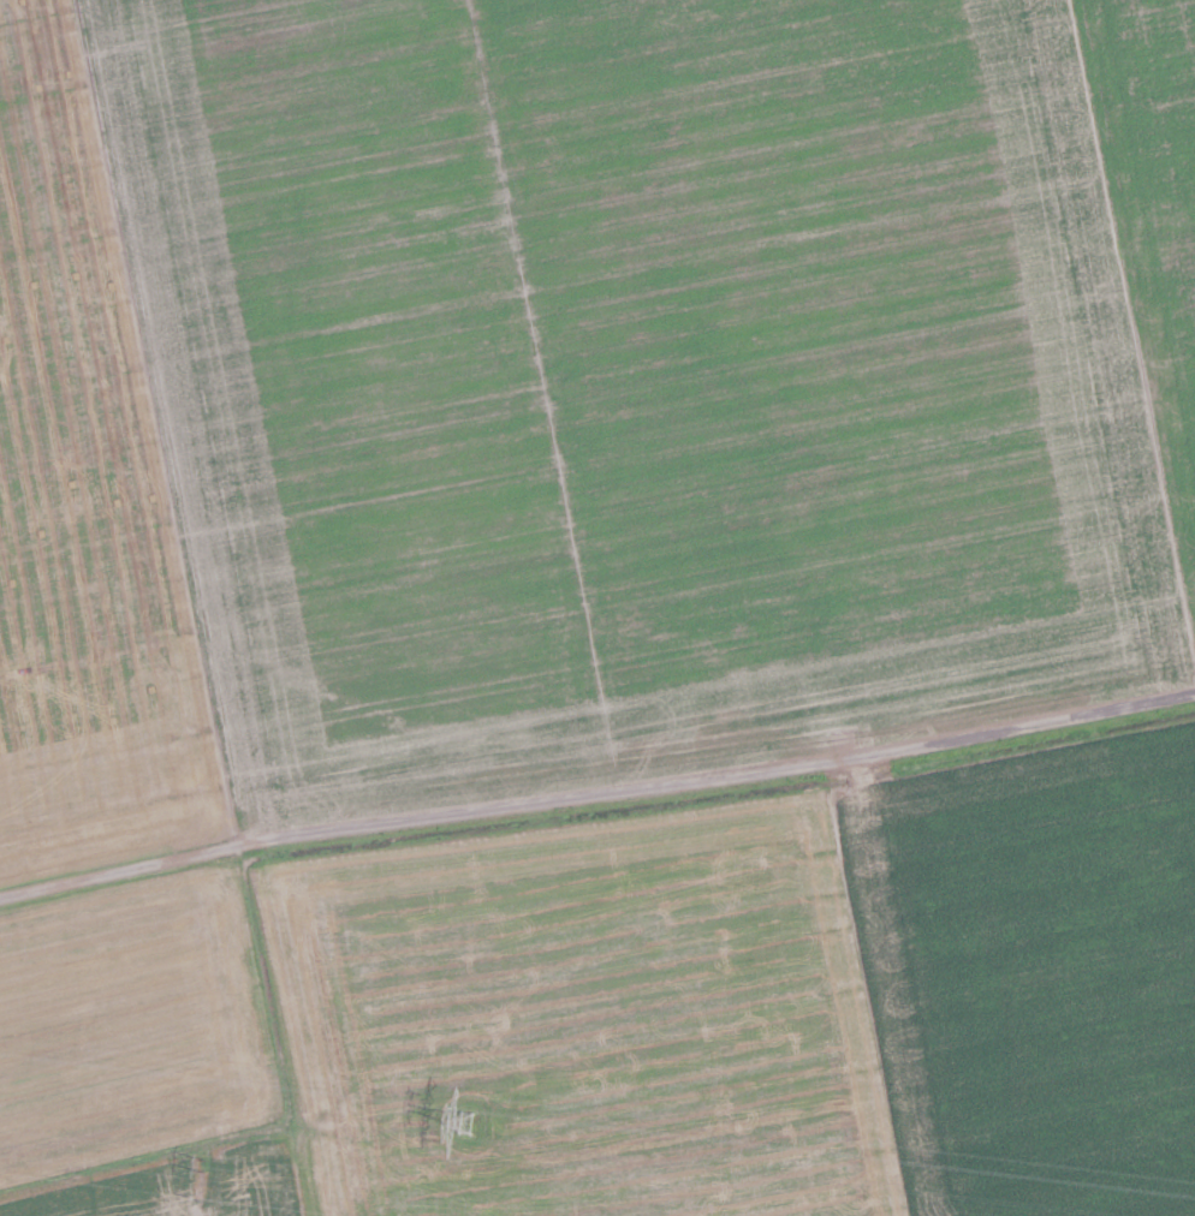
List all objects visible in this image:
power tower: (463, 1121)
power tower: (203, 1162)

